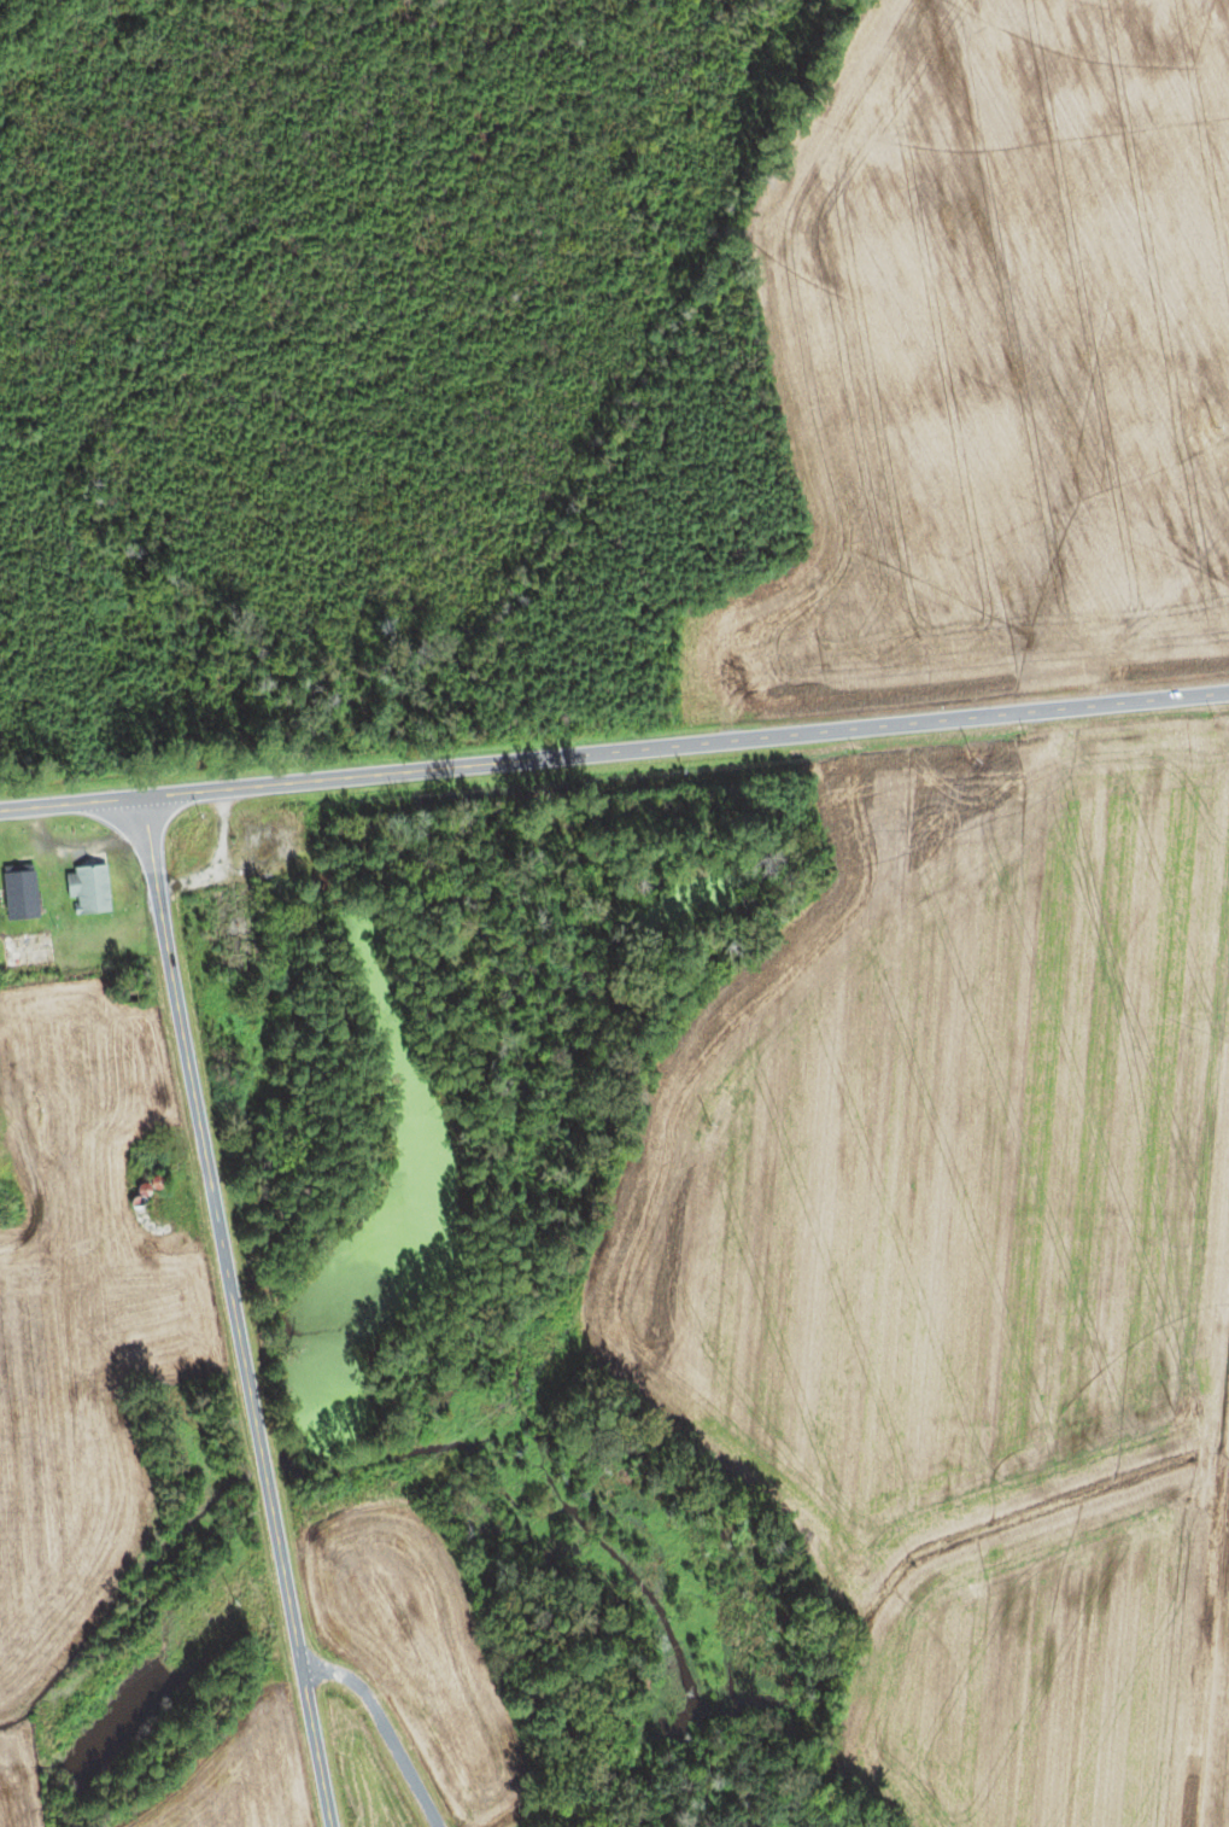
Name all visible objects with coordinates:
road: (614, 749)
building: (86, 888)
building: (17, 895)
building: (23, 951)
building: (140, 1157)
road: (233, 1311)
road: (381, 1728)

